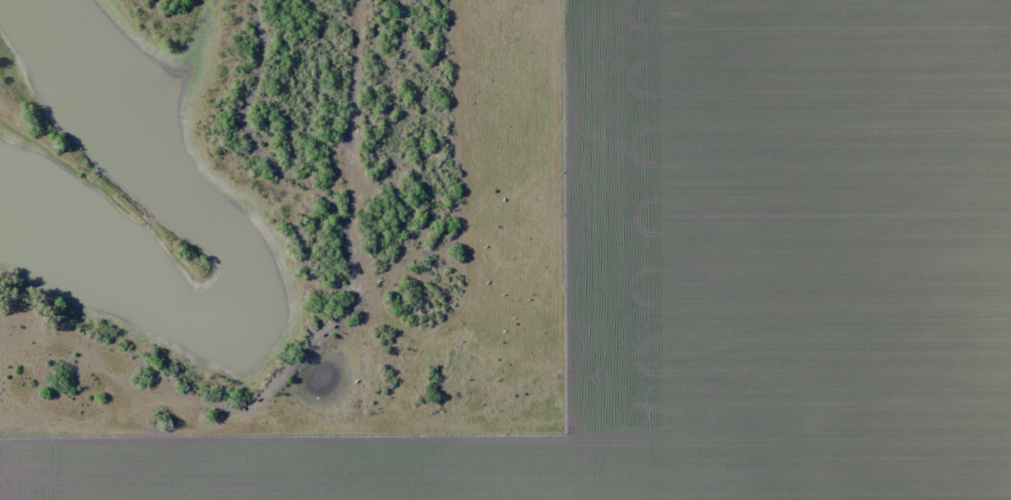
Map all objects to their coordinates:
road: (790, 250)

